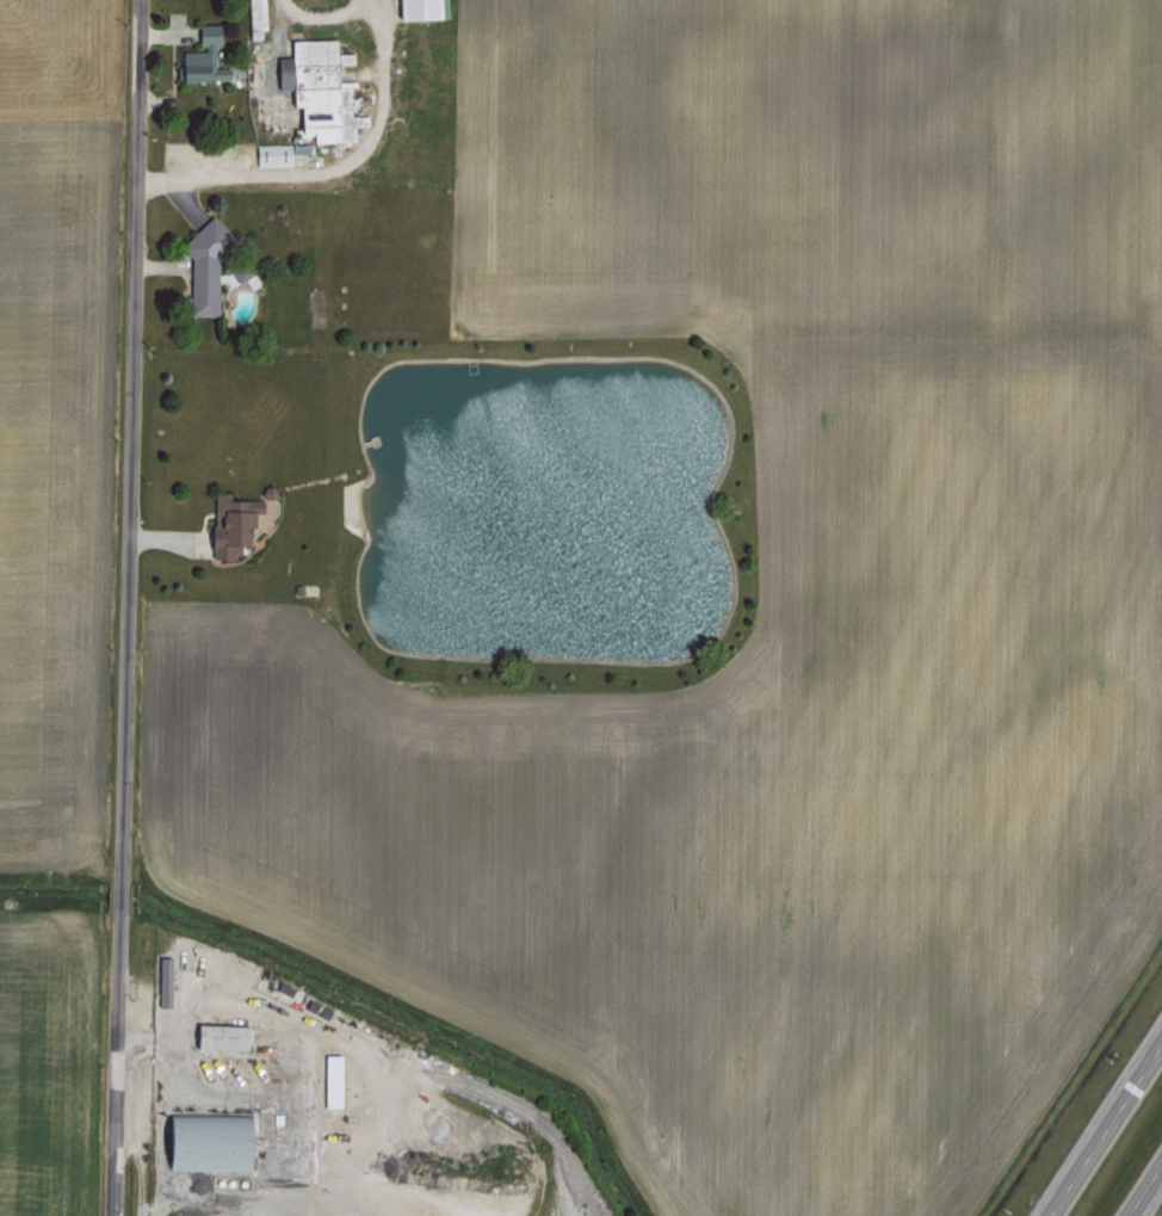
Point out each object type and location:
building: (255, 17)
building: (203, 56)
building: (319, 88)
building: (277, 152)
road: (328, 174)
building: (203, 268)
building: (230, 525)
crop: (762, 600)
road: (122, 607)
building: (163, 980)
building: (220, 1036)
building: (332, 1079)
road: (1102, 1124)
building: (208, 1142)
road: (1157, 1210)

